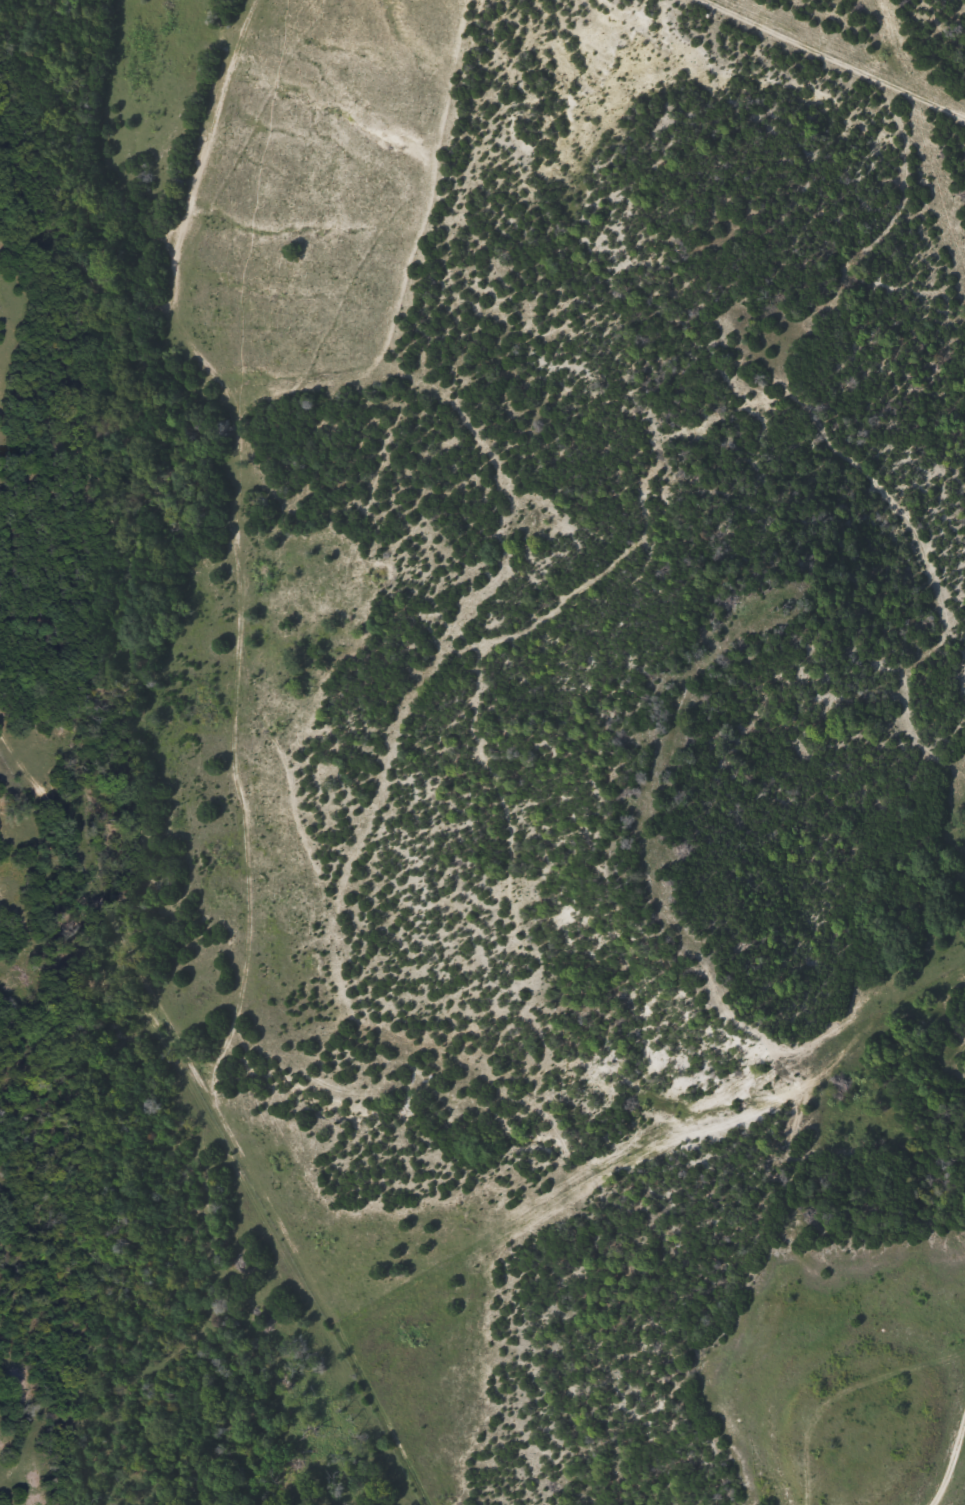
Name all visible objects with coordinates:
road: (953, 1469)

